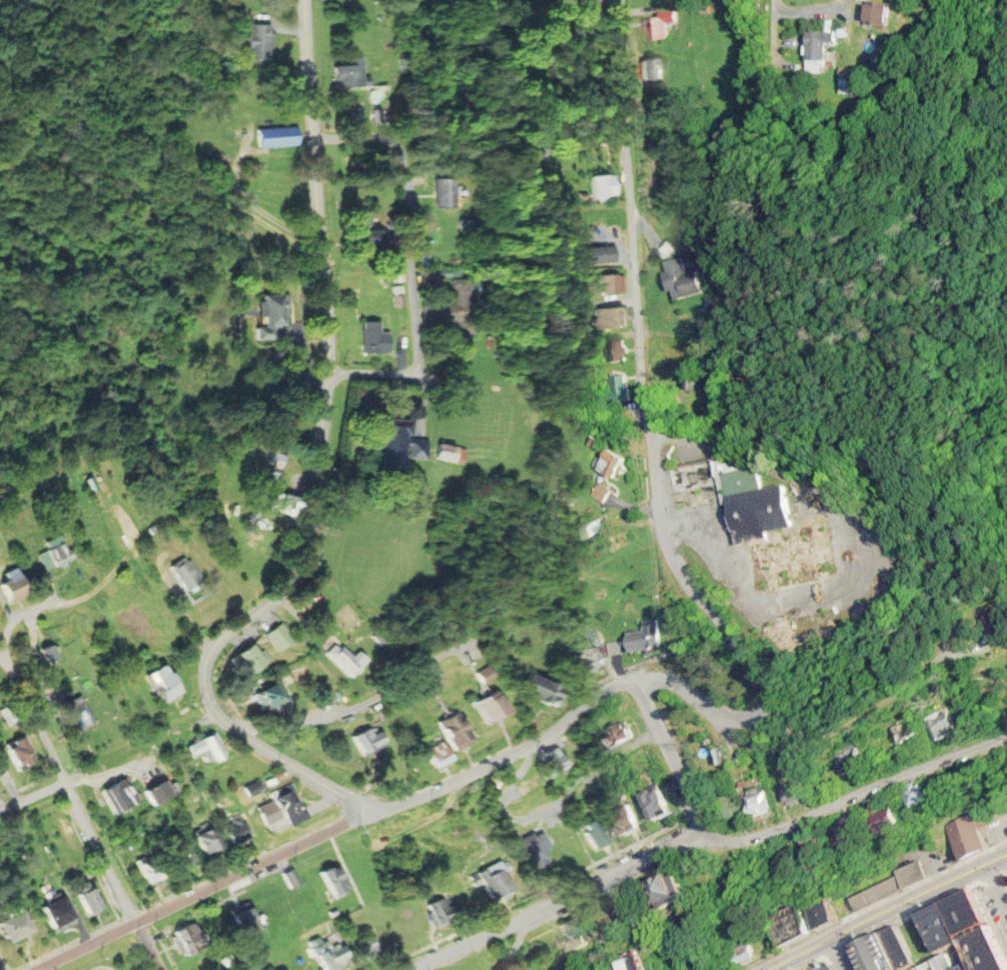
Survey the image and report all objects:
building: (594, 2)
building: (664, 24)
road: (780, 33)
building: (259, 40)
building: (829, 40)
building: (652, 67)
building: (348, 74)
building: (856, 76)
building: (277, 136)
building: (604, 184)
building: (444, 191)
road: (254, 206)
building: (371, 232)
building: (601, 254)
road: (407, 263)
building: (684, 278)
building: (609, 284)
building: (462, 291)
building: (272, 315)
building: (611, 317)
building: (376, 338)
building: (616, 351)
building: (695, 381)
building: (617, 389)
building: (405, 442)
road: (653, 444)
building: (451, 452)
building: (278, 458)
building: (614, 462)
road: (322, 472)
building: (601, 492)
building: (287, 503)
building: (763, 519)
building: (596, 528)
building: (57, 550)
building: (188, 574)
building: (14, 586)
road: (26, 614)
building: (281, 636)
building: (646, 636)
road: (4, 640)
building: (614, 648)
building: (48, 652)
building: (348, 659)
building: (589, 659)
building: (248, 661)
building: (164, 683)
building: (541, 690)
building: (270, 696)
building: (492, 706)
building: (77, 713)
building: (947, 724)
road: (839, 729)
building: (457, 730)
building: (911, 730)
building: (618, 735)
building: (367, 740)
building: (206, 747)
building: (20, 753)
building: (440, 754)
road: (106, 761)
building: (555, 761)
building: (855, 761)
road: (676, 763)
building: (801, 791)
building: (159, 792)
building: (119, 796)
building: (917, 796)
building: (762, 801)
building: (657, 803)
building: (735, 806)
building: (283, 808)
road: (79, 813)
building: (625, 820)
building: (888, 820)
road: (343, 825)
building: (849, 828)
building: (237, 830)
building: (597, 833)
building: (968, 837)
building: (208, 841)
road: (711, 844)
building: (180, 850)
building: (948, 861)
building: (150, 868)
building: (728, 869)
building: (291, 878)
building: (334, 880)
building: (495, 881)
building: (891, 886)
building: (666, 890)
road: (995, 895)
building: (89, 900)
building: (439, 912)
building: (821, 913)
building: (58, 914)
road: (892, 914)
building: (244, 922)
building: (576, 934)
building: (189, 938)
building: (941, 939)
building: (368, 947)
building: (745, 953)
building: (331, 955)
road: (839, 956)
building: (632, 962)

